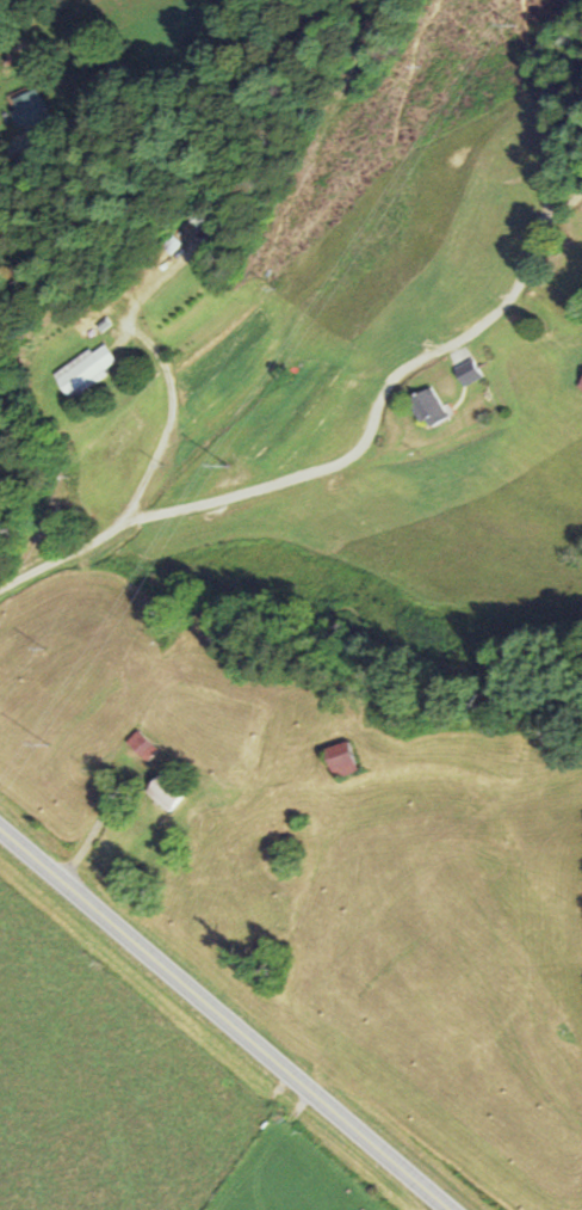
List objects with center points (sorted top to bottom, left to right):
power tower: (514, 25)
building: (27, 109)
road: (35, 148)
building: (83, 371)
building: (466, 373)
building: (428, 407)
road: (341, 456)
power tower: (228, 466)
power tower: (48, 745)
building: (142, 745)
building: (339, 757)
road: (222, 1019)

